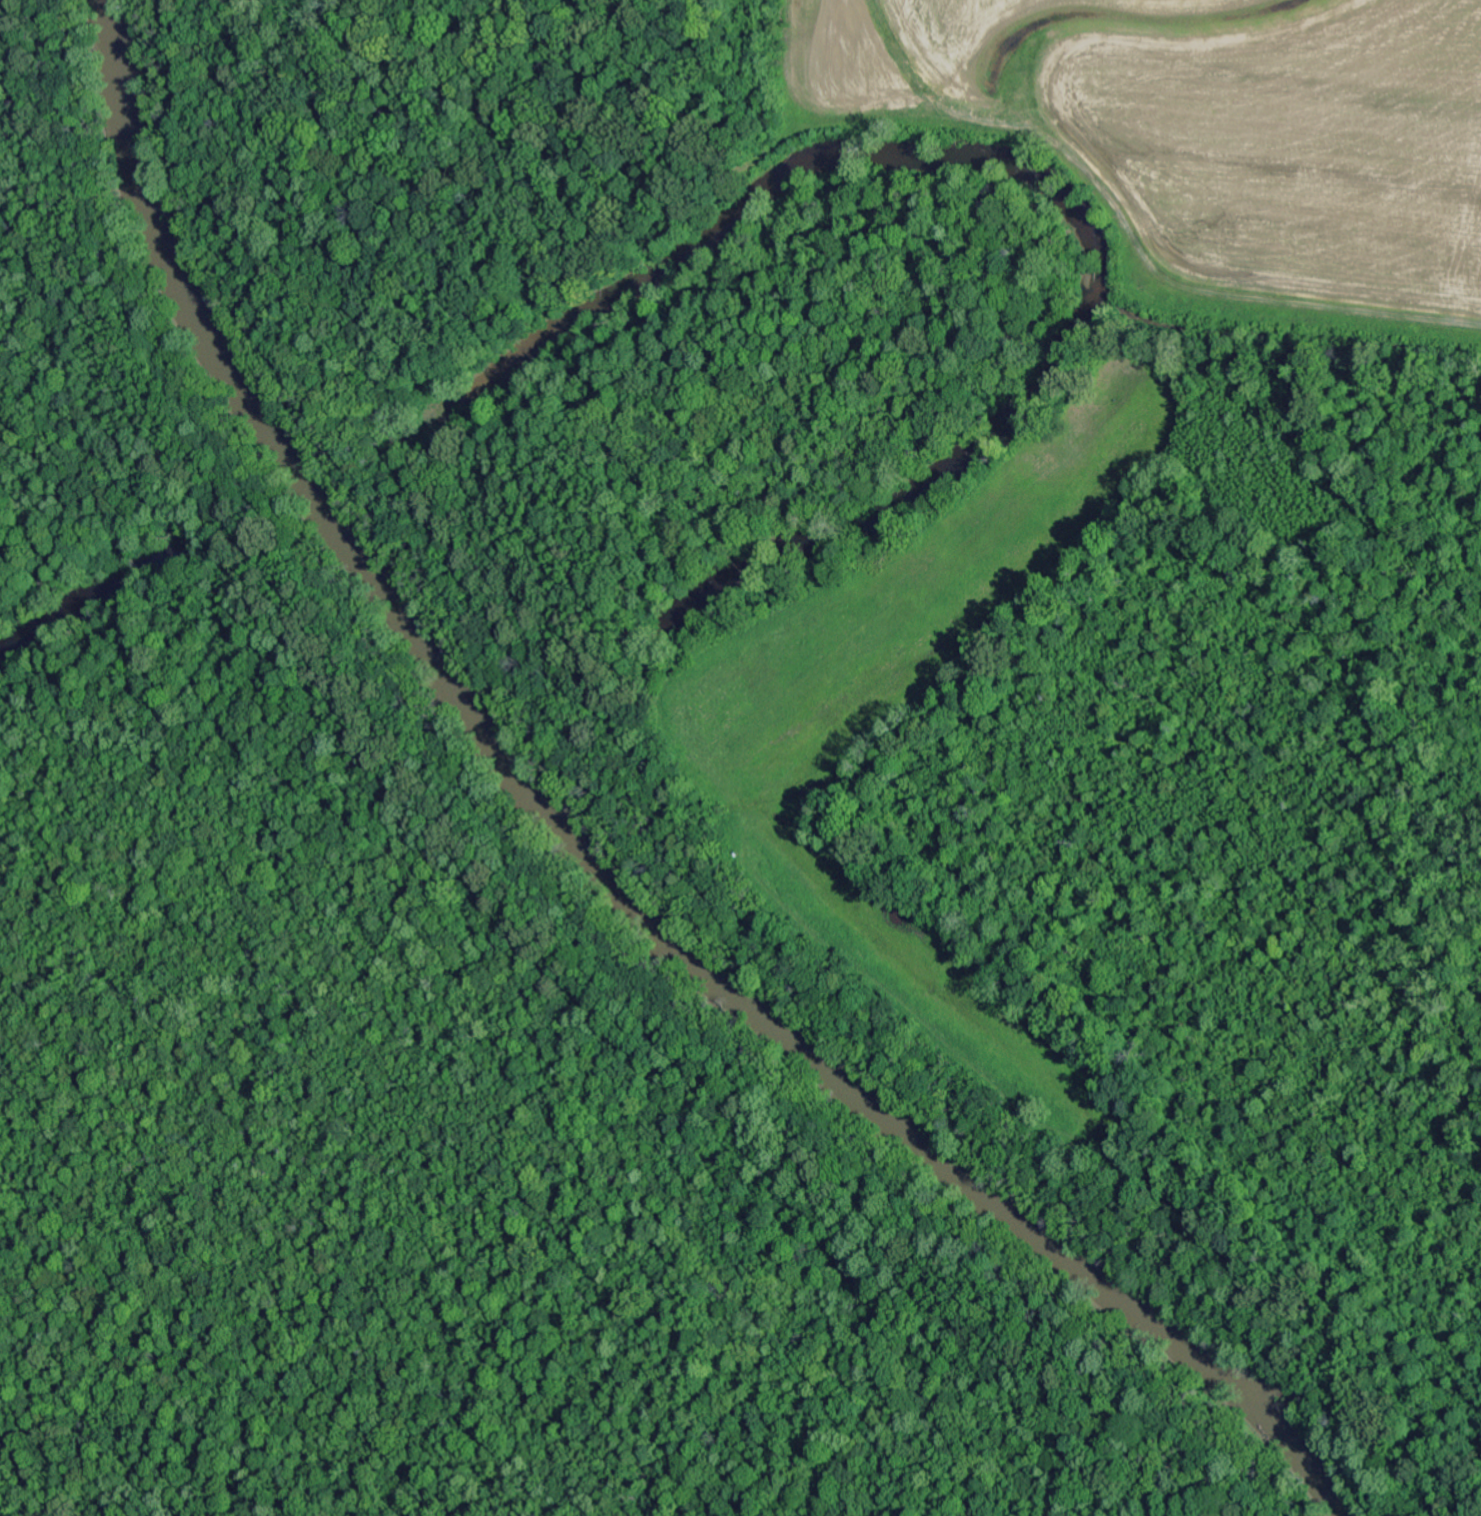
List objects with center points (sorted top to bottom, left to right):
river: (595, 859)

